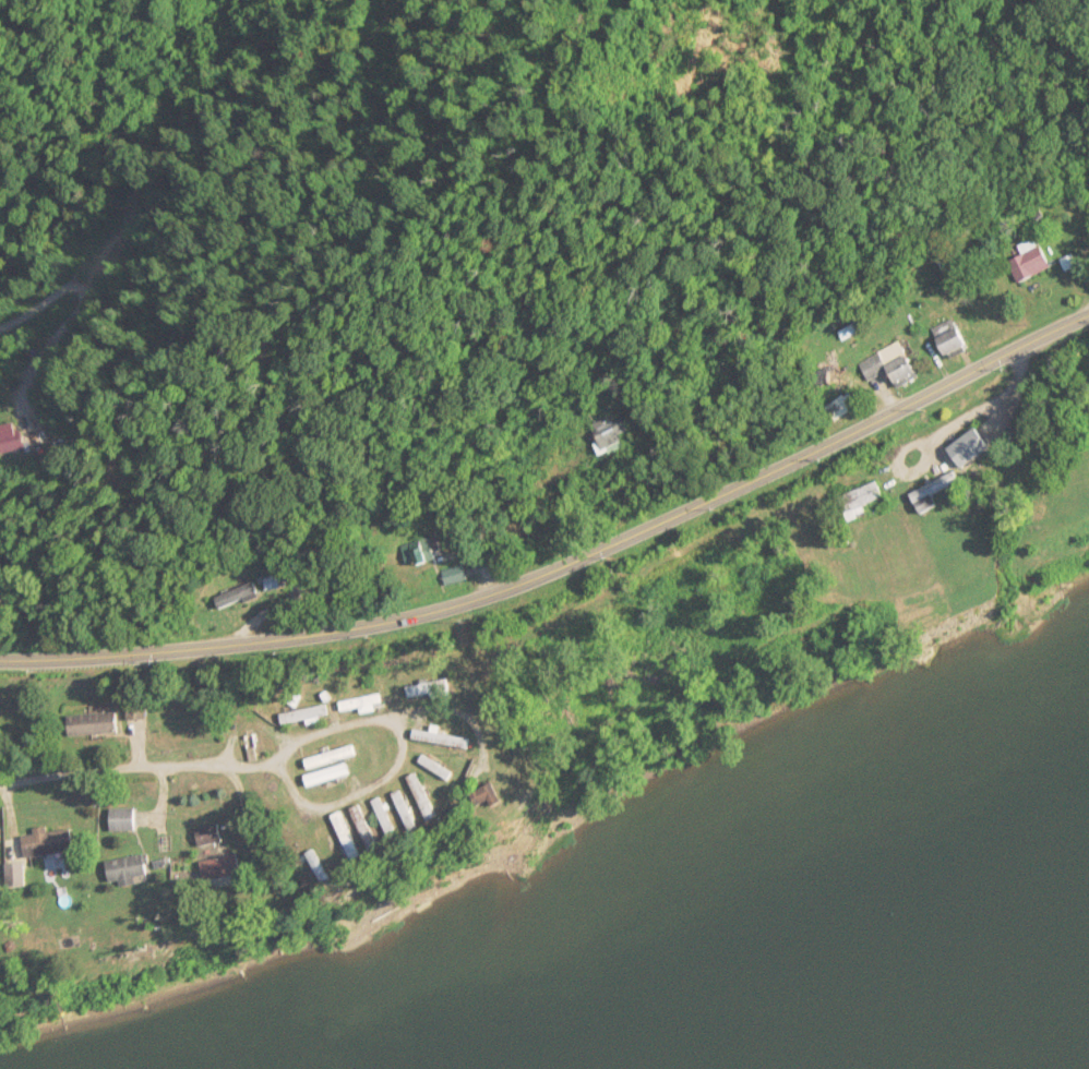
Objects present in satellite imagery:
building: (1026, 261)
building: (944, 337)
building: (887, 365)
building: (608, 432)
building: (32, 442)
building: (961, 448)
road: (787, 466)
building: (452, 577)
building: (243, 597)
road: (240, 644)
building: (424, 688)
building: (139, 711)
building: (302, 716)
building: (97, 724)
building: (436, 738)
building: (487, 743)
building: (326, 758)
road: (400, 760)
road: (136, 765)
building: (440, 767)
building: (324, 776)
building: (428, 797)
building: (494, 798)
building: (410, 809)
building: (127, 820)
building: (392, 820)
building: (371, 829)
building: (214, 836)
building: (51, 845)
building: (335, 852)
building: (227, 868)
building: (133, 870)
river: (1015, 1035)

